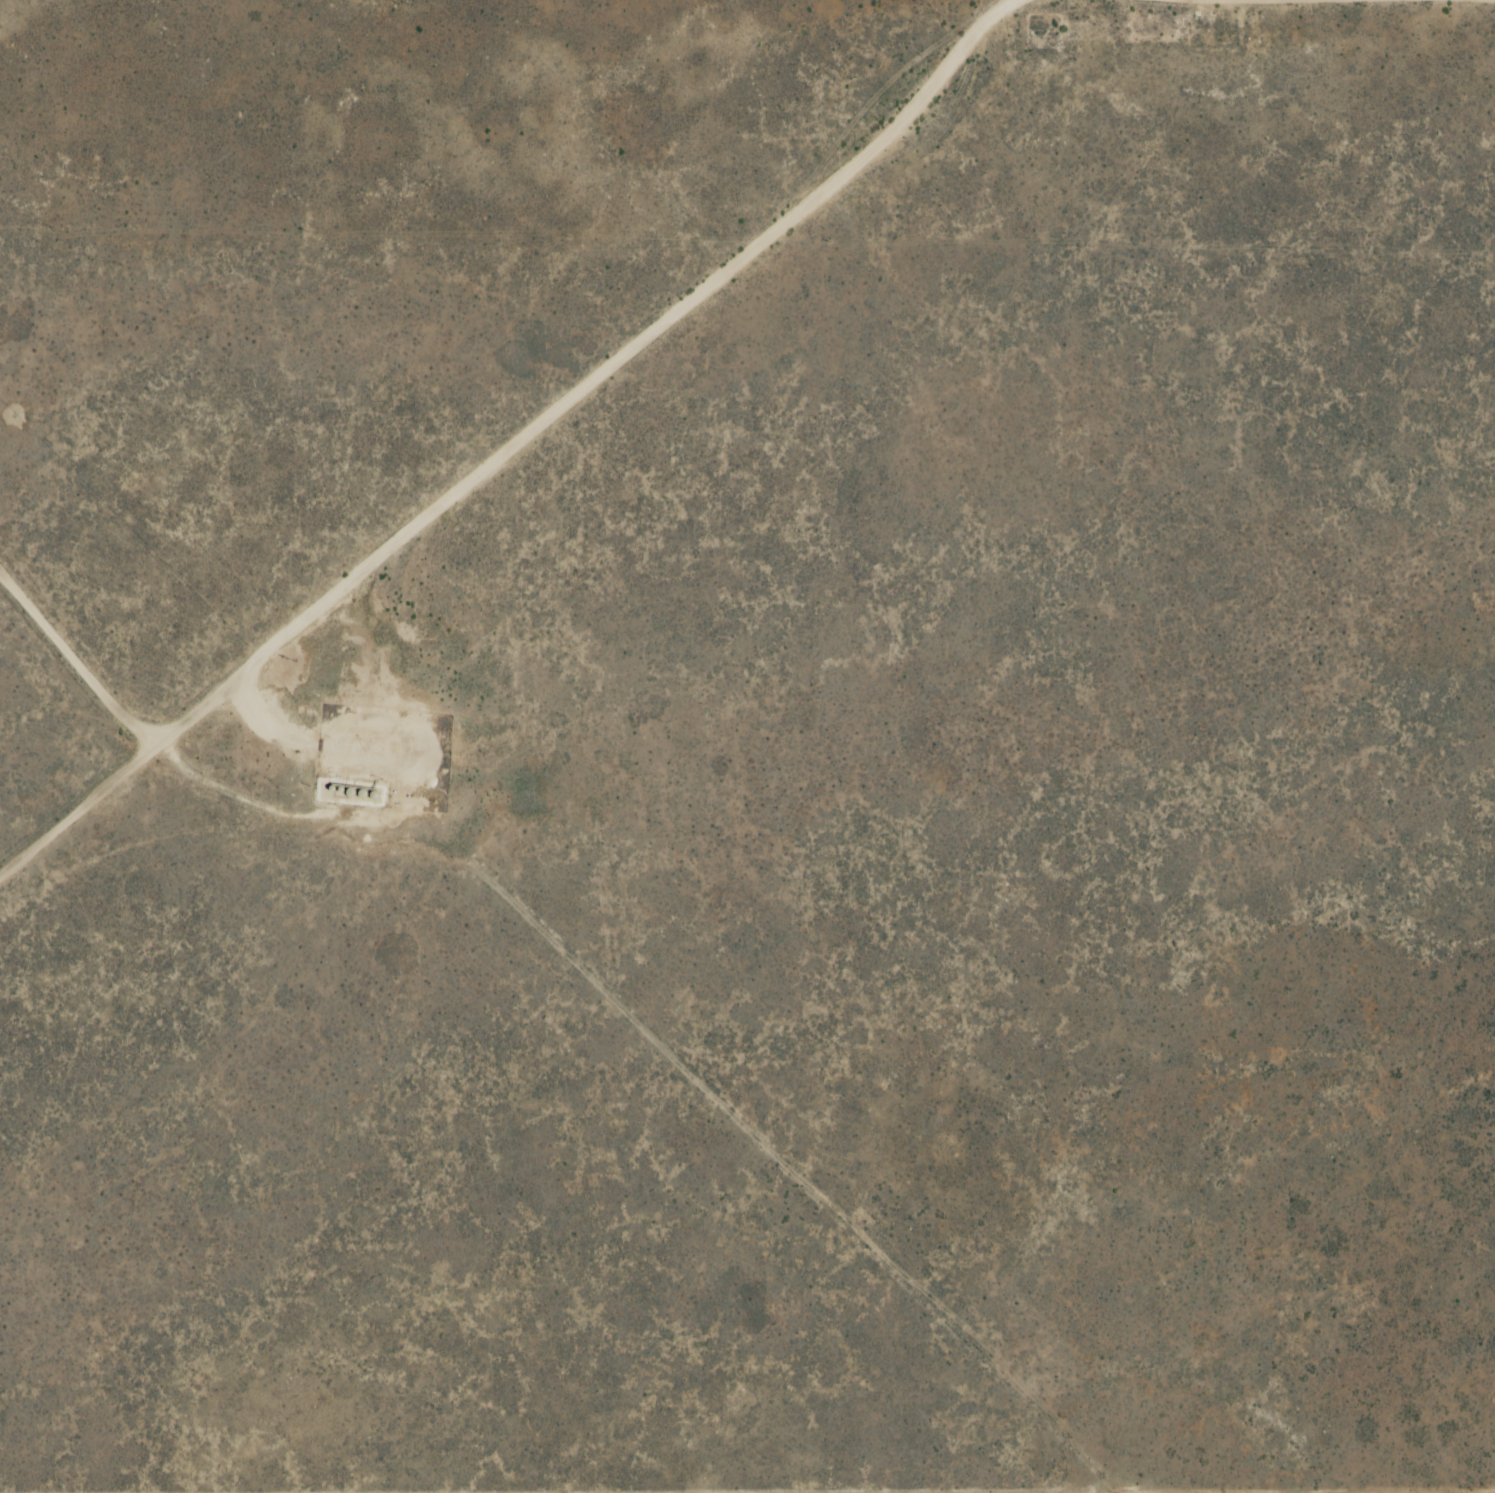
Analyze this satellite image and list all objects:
road: (514, 446)
road: (78, 662)
road: (279, 713)

